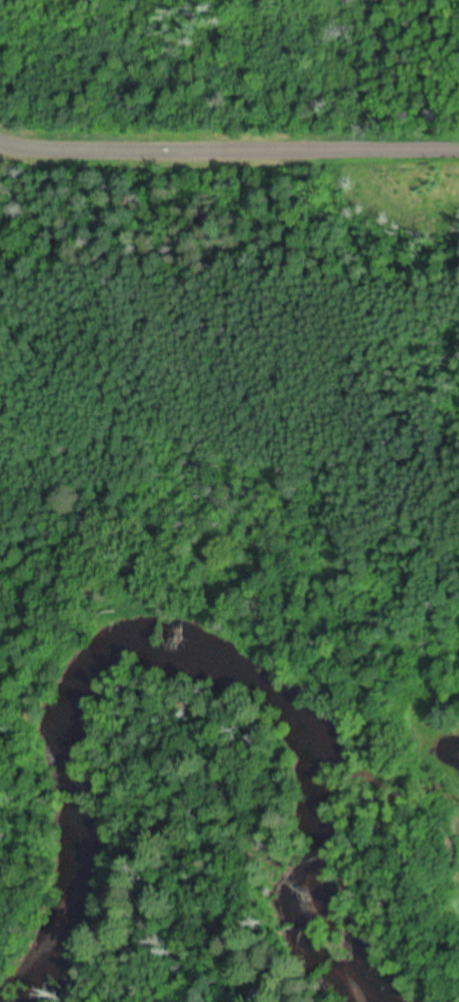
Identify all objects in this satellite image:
road: (229, 157)
river: (187, 660)

